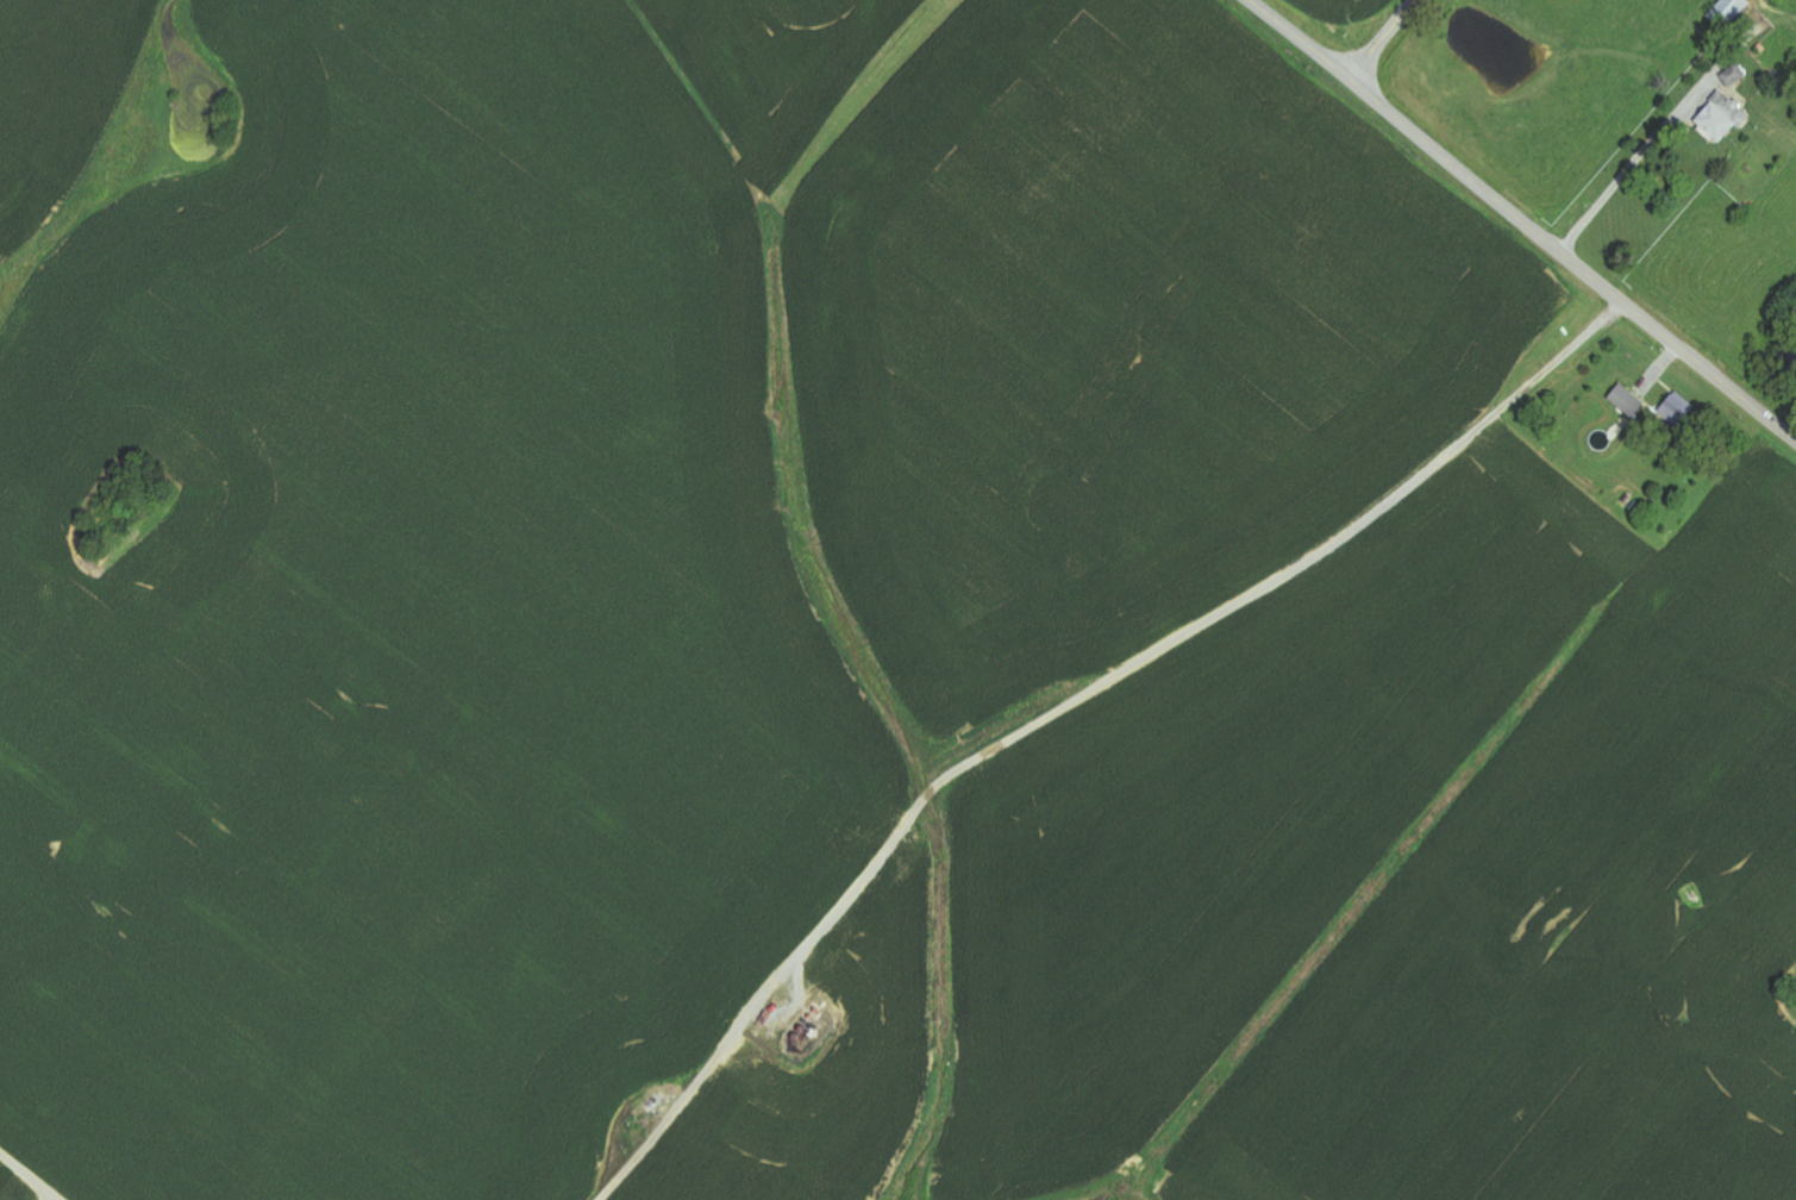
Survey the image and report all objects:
building: (1731, 12)
road: (1382, 39)
building: (1735, 76)
building: (1725, 118)
road: (1626, 171)
road: (1521, 220)
building: (1628, 402)
building: (1679, 410)
road: (1066, 706)
road: (27, 1179)

